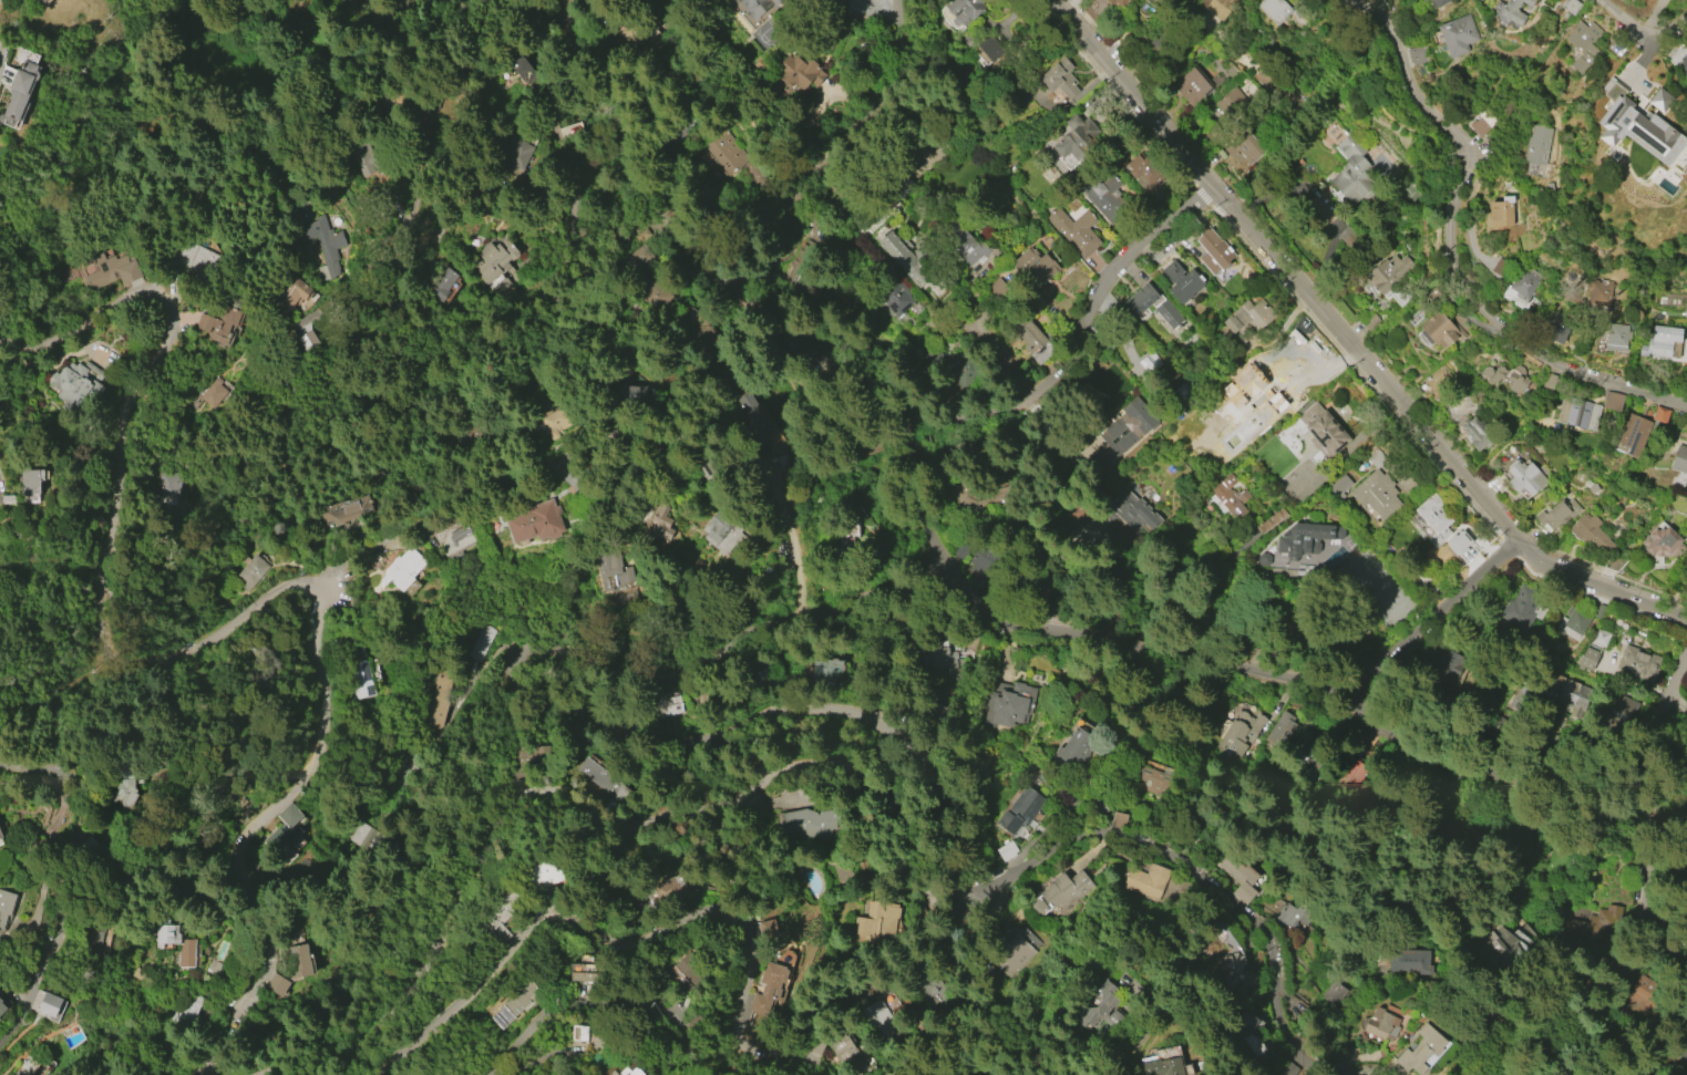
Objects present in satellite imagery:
building: (44, 0)
building: (1424, 0)
building: (1118, 2)
building: (1436, 2)
building: (392, 3)
building: (1570, 6)
building: (755, 7)
building: (1218, 8)
building: (1272, 9)
building: (965, 10)
building: (1513, 10)
road: (1640, 24)
building: (1457, 34)
building: (1583, 44)
building: (989, 48)
building: (1416, 54)
building: (1680, 61)
building: (522, 70)
building: (800, 72)
building: (1059, 77)
building: (1192, 86)
building: (19, 91)
building: (1223, 106)
building: (1485, 126)
building: (1637, 130)
building: (569, 133)
road: (839, 136)
building: (1077, 136)
building: (1539, 144)
building: (724, 149)
building: (1243, 149)
building: (516, 154)
building: (364, 157)
building: (1350, 170)
building: (1143, 174)
building: (747, 175)
building: (1100, 196)
building: (1499, 214)
building: (1074, 230)
road: (445, 236)
building: (325, 246)
building: (970, 247)
road: (1453, 249)
building: (1214, 251)
building: (903, 258)
building: (492, 259)
building: (191, 260)
building: (798, 267)
building: (1035, 267)
building: (107, 270)
building: (1388, 272)
building: (1181, 281)
building: (1524, 282)
building: (439, 283)
building: (289, 293)
building: (1598, 293)
building: (655, 296)
building: (894, 298)
building: (1141, 299)
building: (1248, 316)
building: (220, 322)
building: (1555, 324)
building: (1439, 330)
building: (1616, 337)
road: (483, 338)
building: (306, 340)
road: (1352, 340)
building: (1660, 340)
building: (1032, 341)
road: (1080, 342)
building: (1149, 362)
road: (1002, 366)
building: (1506, 376)
building: (1438, 380)
building: (76, 384)
building: (208, 393)
building: (634, 395)
building: (1612, 401)
building: (1578, 413)
building: (1659, 414)
building: (555, 422)
building: (749, 424)
building: (1127, 430)
building: (1323, 430)
building: (1477, 432)
building: (1633, 434)
building: (1679, 459)
building: (1524, 477)
building: (165, 484)
building: (29, 485)
building: (1339, 486)
building: (1376, 488)
road: (469, 492)
road: (115, 494)
building: (1230, 499)
building: (344, 510)
building: (1134, 514)
building: (1556, 514)
building: (1434, 517)
building: (1271, 520)
building: (536, 521)
building: (659, 525)
building: (1591, 531)
building: (721, 535)
building: (454, 536)
building: (848, 538)
building: (1306, 538)
building: (1662, 542)
road: (792, 544)
building: (610, 568)
building: (402, 569)
building: (251, 570)
building: (1419, 578)
road: (294, 580)
building: (1522, 607)
building: (1598, 611)
road: (1021, 614)
road: (1433, 619)
building: (1572, 623)
building: (1599, 637)
building: (477, 644)
building: (938, 653)
road: (54, 658)
building: (1587, 660)
building: (1637, 663)
building: (1447, 666)
building: (827, 671)
building: (361, 679)
building: (1564, 692)
building: (438, 697)
building: (1007, 702)
building: (668, 703)
building: (1686, 706)
building: (1614, 711)
road: (839, 712)
road: (1653, 731)
building: (1292, 733)
building: (1236, 736)
building: (1076, 746)
building: (604, 779)
building: (1152, 781)
building: (123, 782)
road: (570, 785)
building: (1019, 812)
building: (811, 823)
building: (285, 827)
road: (245, 831)
building: (0, 836)
building: (363, 838)
building: (1006, 850)
park: (374, 872)
building: (1238, 876)
building: (543, 881)
building: (1145, 881)
road: (56, 888)
building: (183, 891)
building: (668, 892)
building: (1059, 892)
road: (398, 905)
building: (4, 906)
building: (1298, 914)
building: (501, 919)
building: (877, 921)
road: (631, 928)
building: (770, 936)
building: (174, 941)
building: (1506, 944)
building: (1012, 953)
building: (298, 961)
building: (1405, 961)
building: (213, 965)
building: (1230, 969)
building: (584, 972)
building: (689, 972)
building: (925, 983)
building: (275, 985)
building: (767, 988)
building: (1334, 993)
building: (522, 996)
building: (0, 1001)
building: (49, 1004)
building: (186, 1006)
road: (608, 1007)
building: (1101, 1007)
building: (1, 1009)
building: (878, 1019)
building: (1381, 1024)
building: (579, 1033)
building: (1252, 1034)
building: (1421, 1050)
building: (846, 1051)
road: (1285, 1057)
building: (1161, 1066)
building: (30, 1067)
building: (623, 1067)

